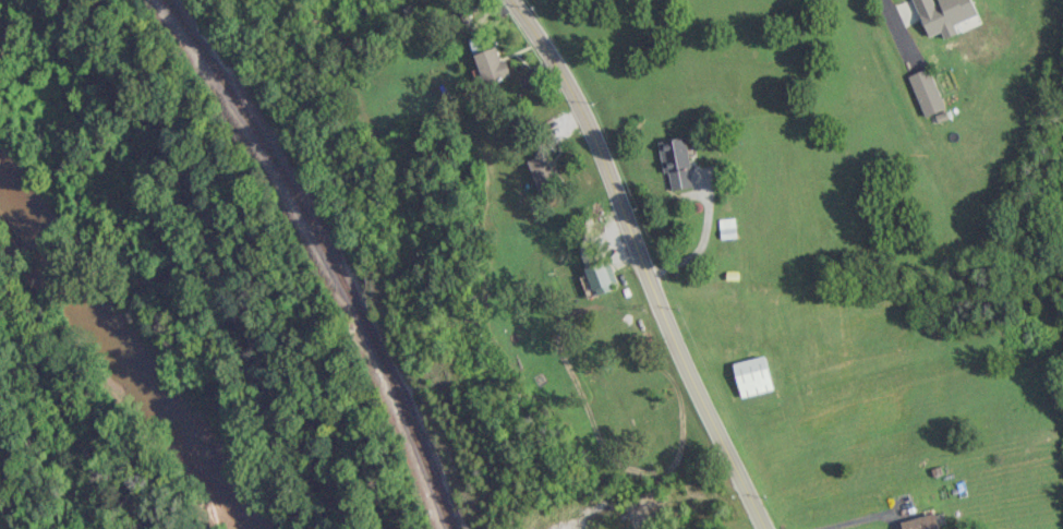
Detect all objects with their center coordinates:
road: (891, 11)
building: (944, 14)
building: (492, 65)
building: (927, 92)
building: (676, 163)
building: (545, 175)
building: (727, 228)
railway: (325, 253)
road: (643, 260)
building: (601, 276)
building: (753, 376)
park: (68, 424)
road: (854, 520)
building: (921, 522)

